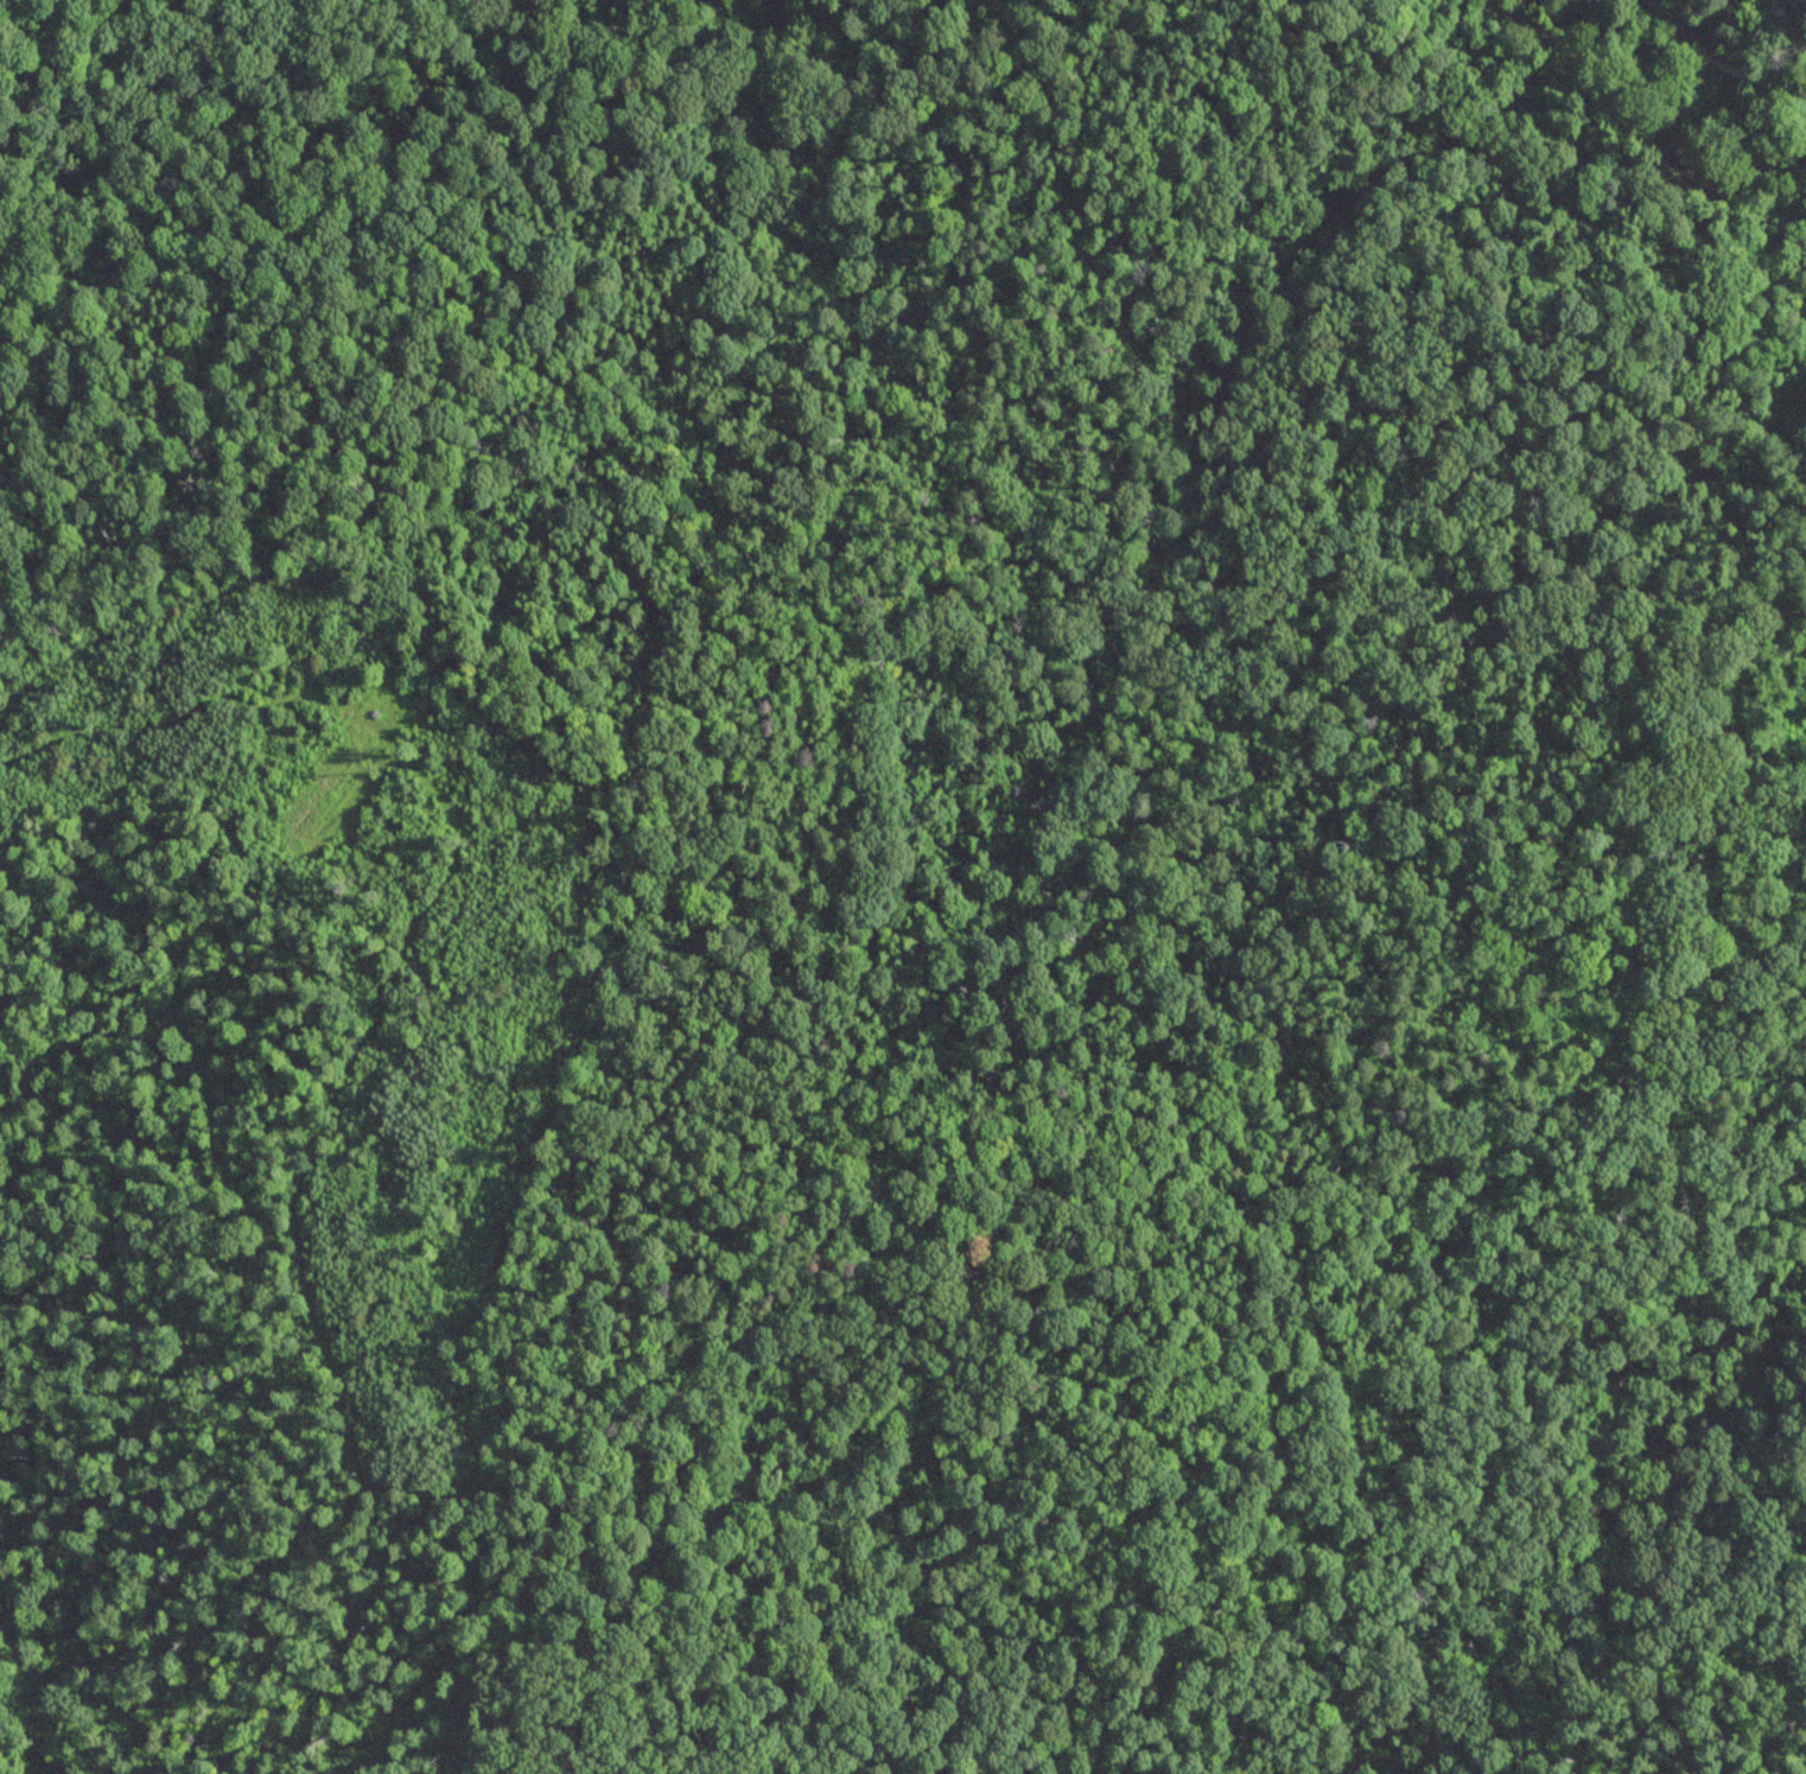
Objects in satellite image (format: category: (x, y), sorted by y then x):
road: (1792, 14)
road: (1717, 65)

